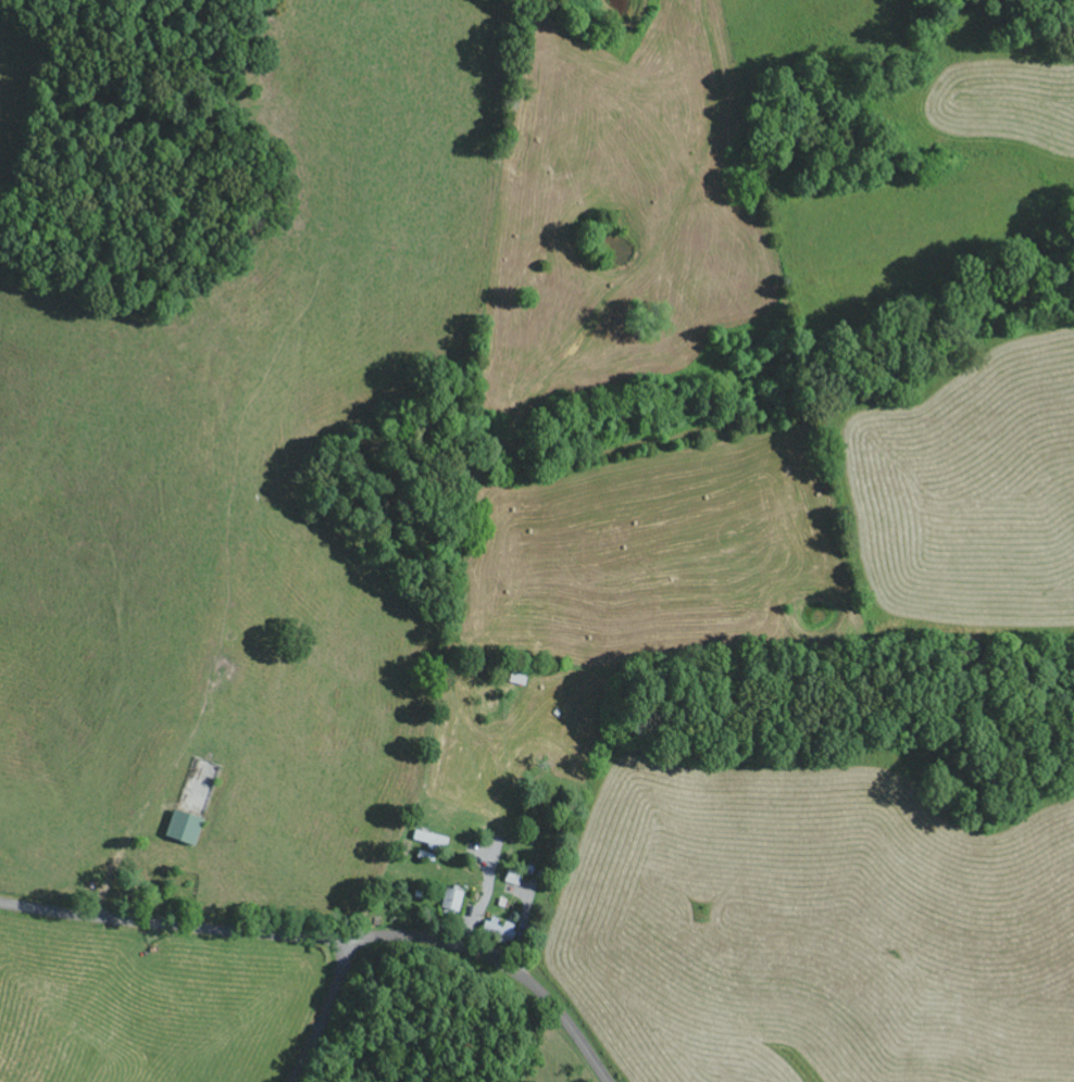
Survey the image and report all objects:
building: (176, 828)
building: (426, 842)
building: (517, 885)
building: (448, 902)
building: (496, 929)
road: (330, 936)
road: (321, 1009)

